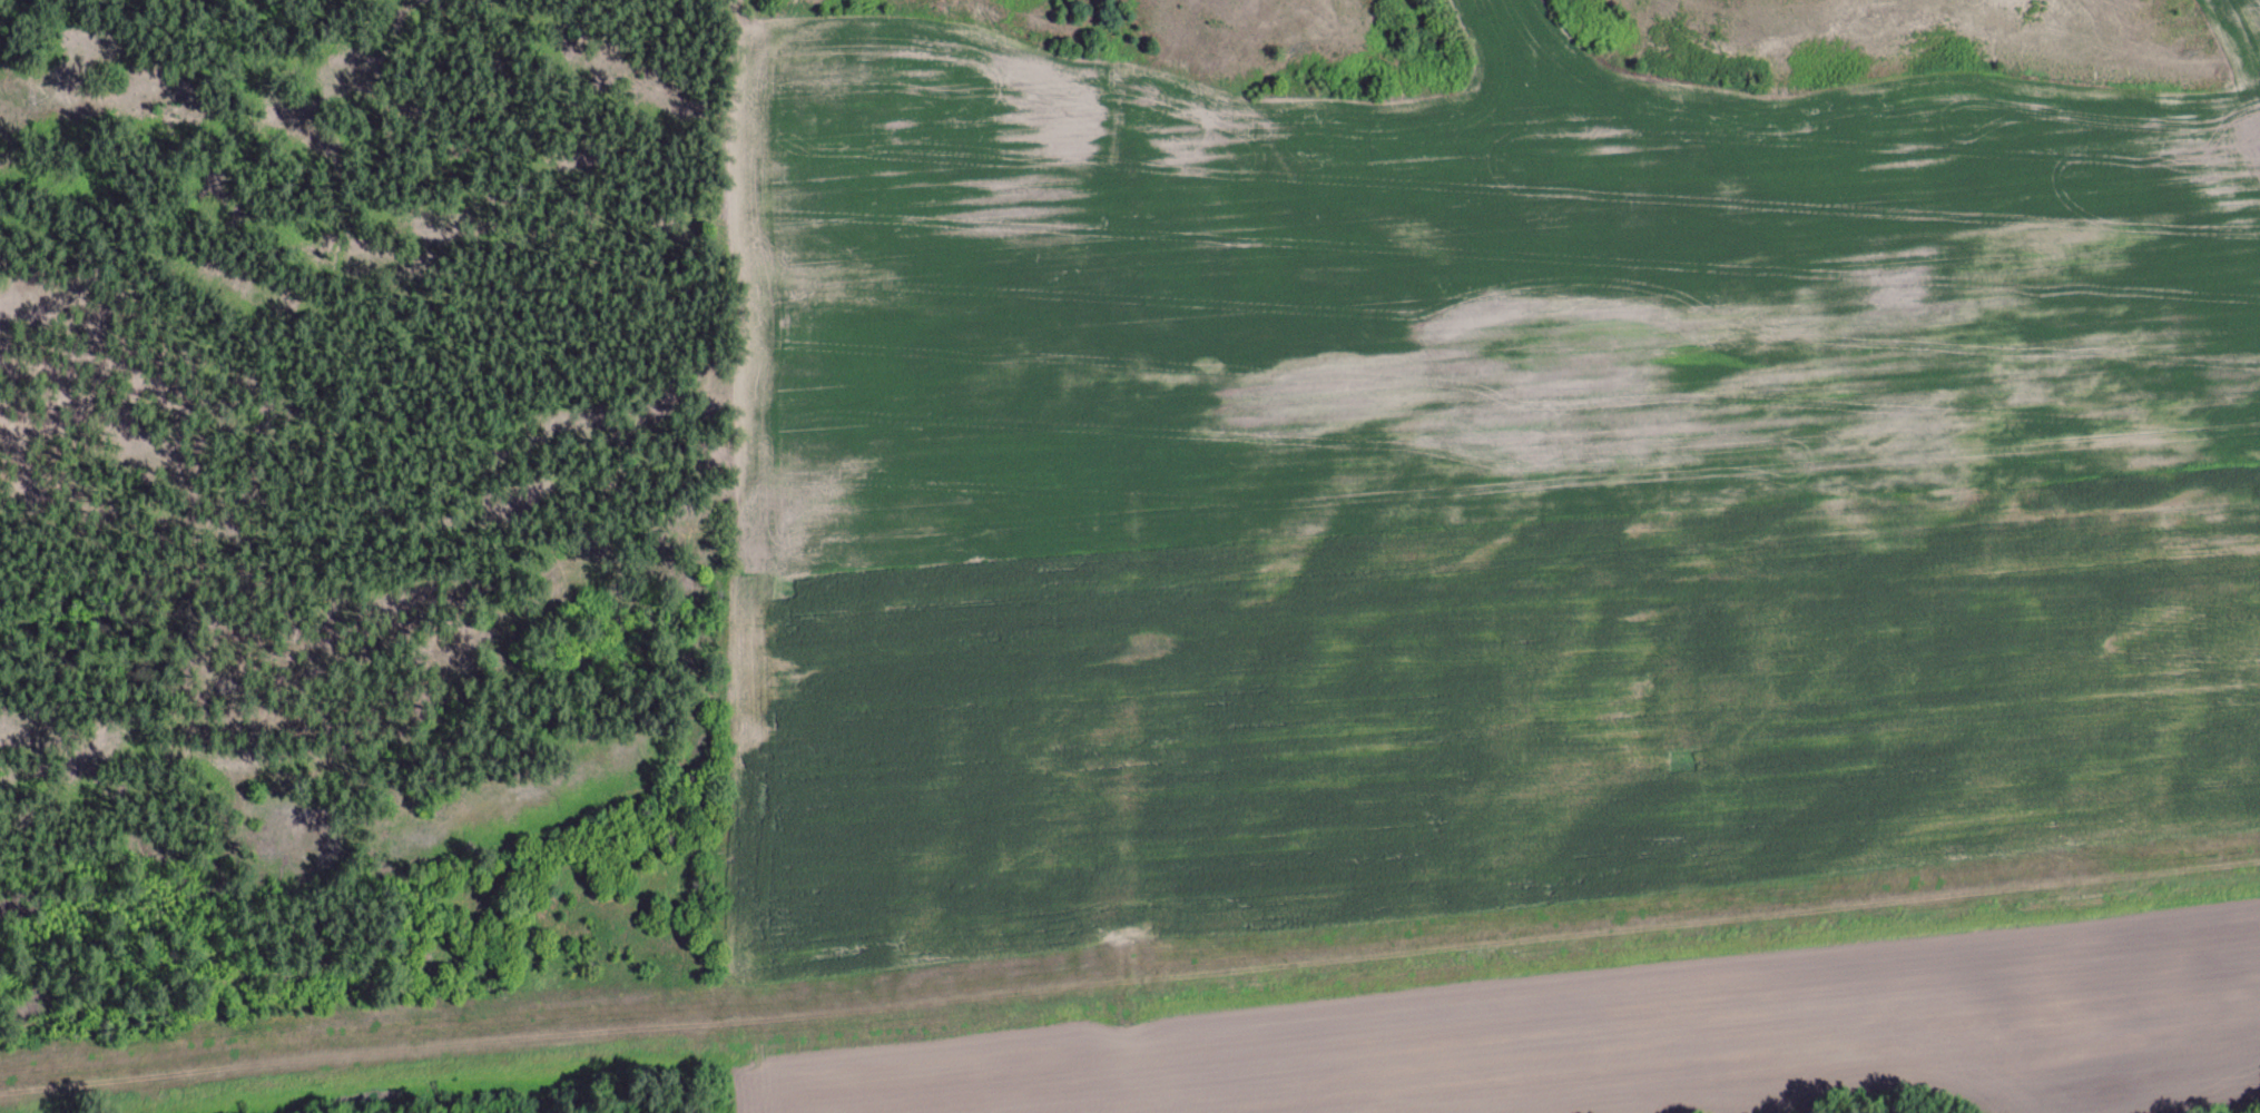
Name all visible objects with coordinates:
road: (1723, 10)
road: (2227, 36)
road: (1130, 974)

